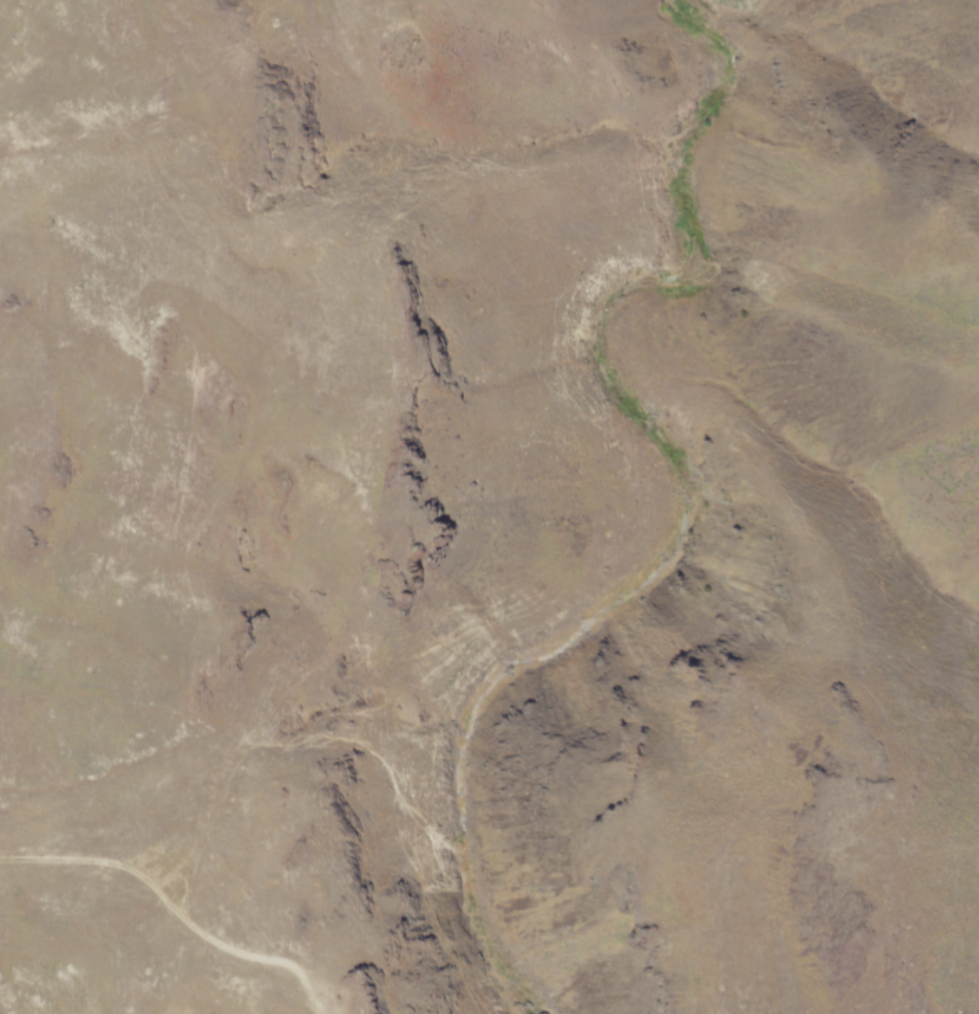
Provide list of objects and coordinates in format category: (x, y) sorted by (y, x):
road: (172, 909)

